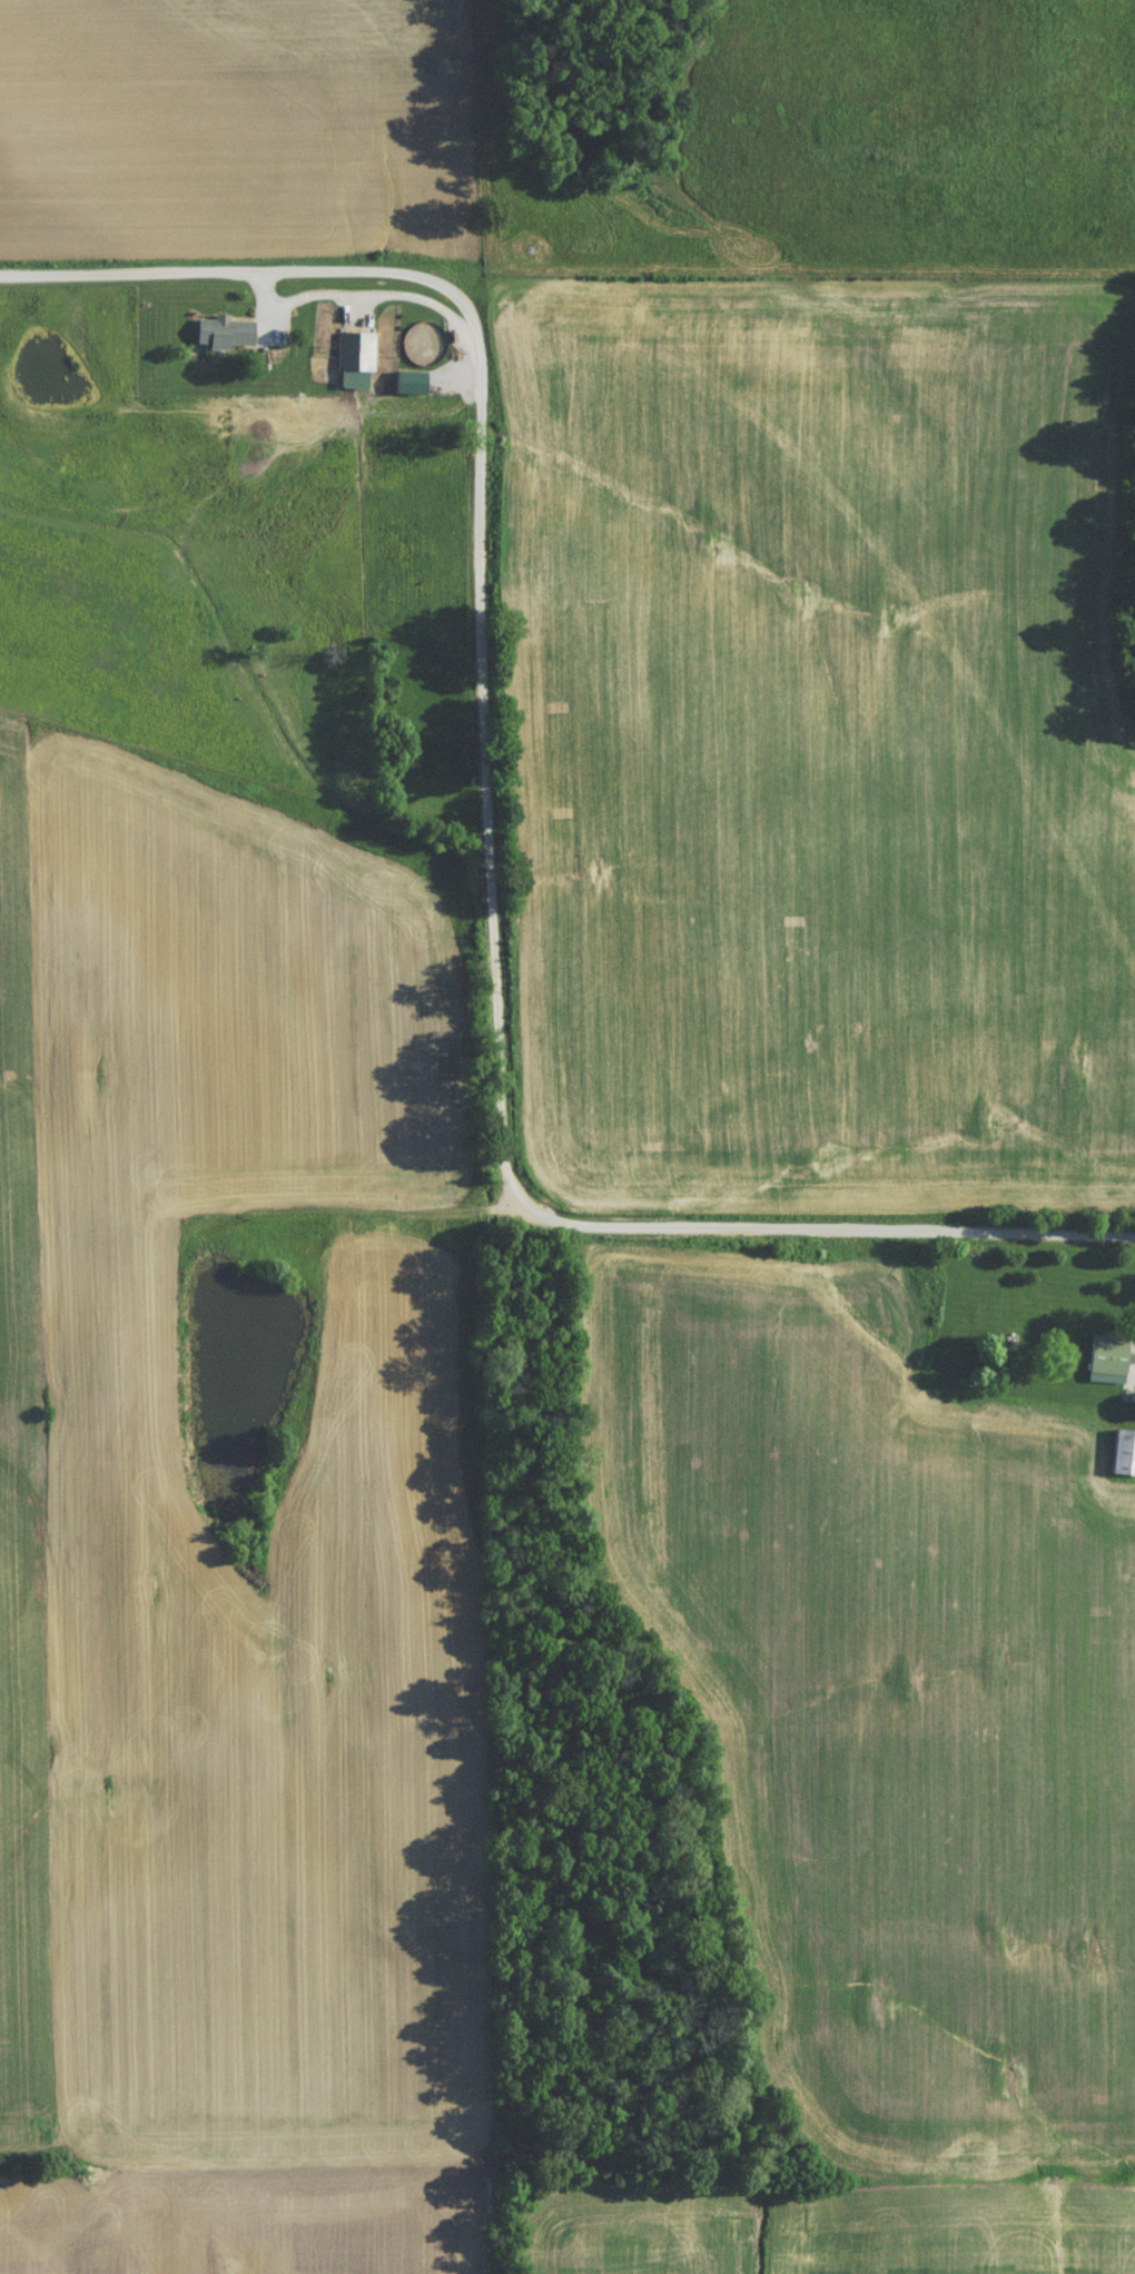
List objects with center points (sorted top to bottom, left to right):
road: (254, 256)
building: (221, 338)
building: (349, 366)
road: (480, 735)
road: (794, 1230)
building: (1101, 1368)
building: (1121, 1457)

